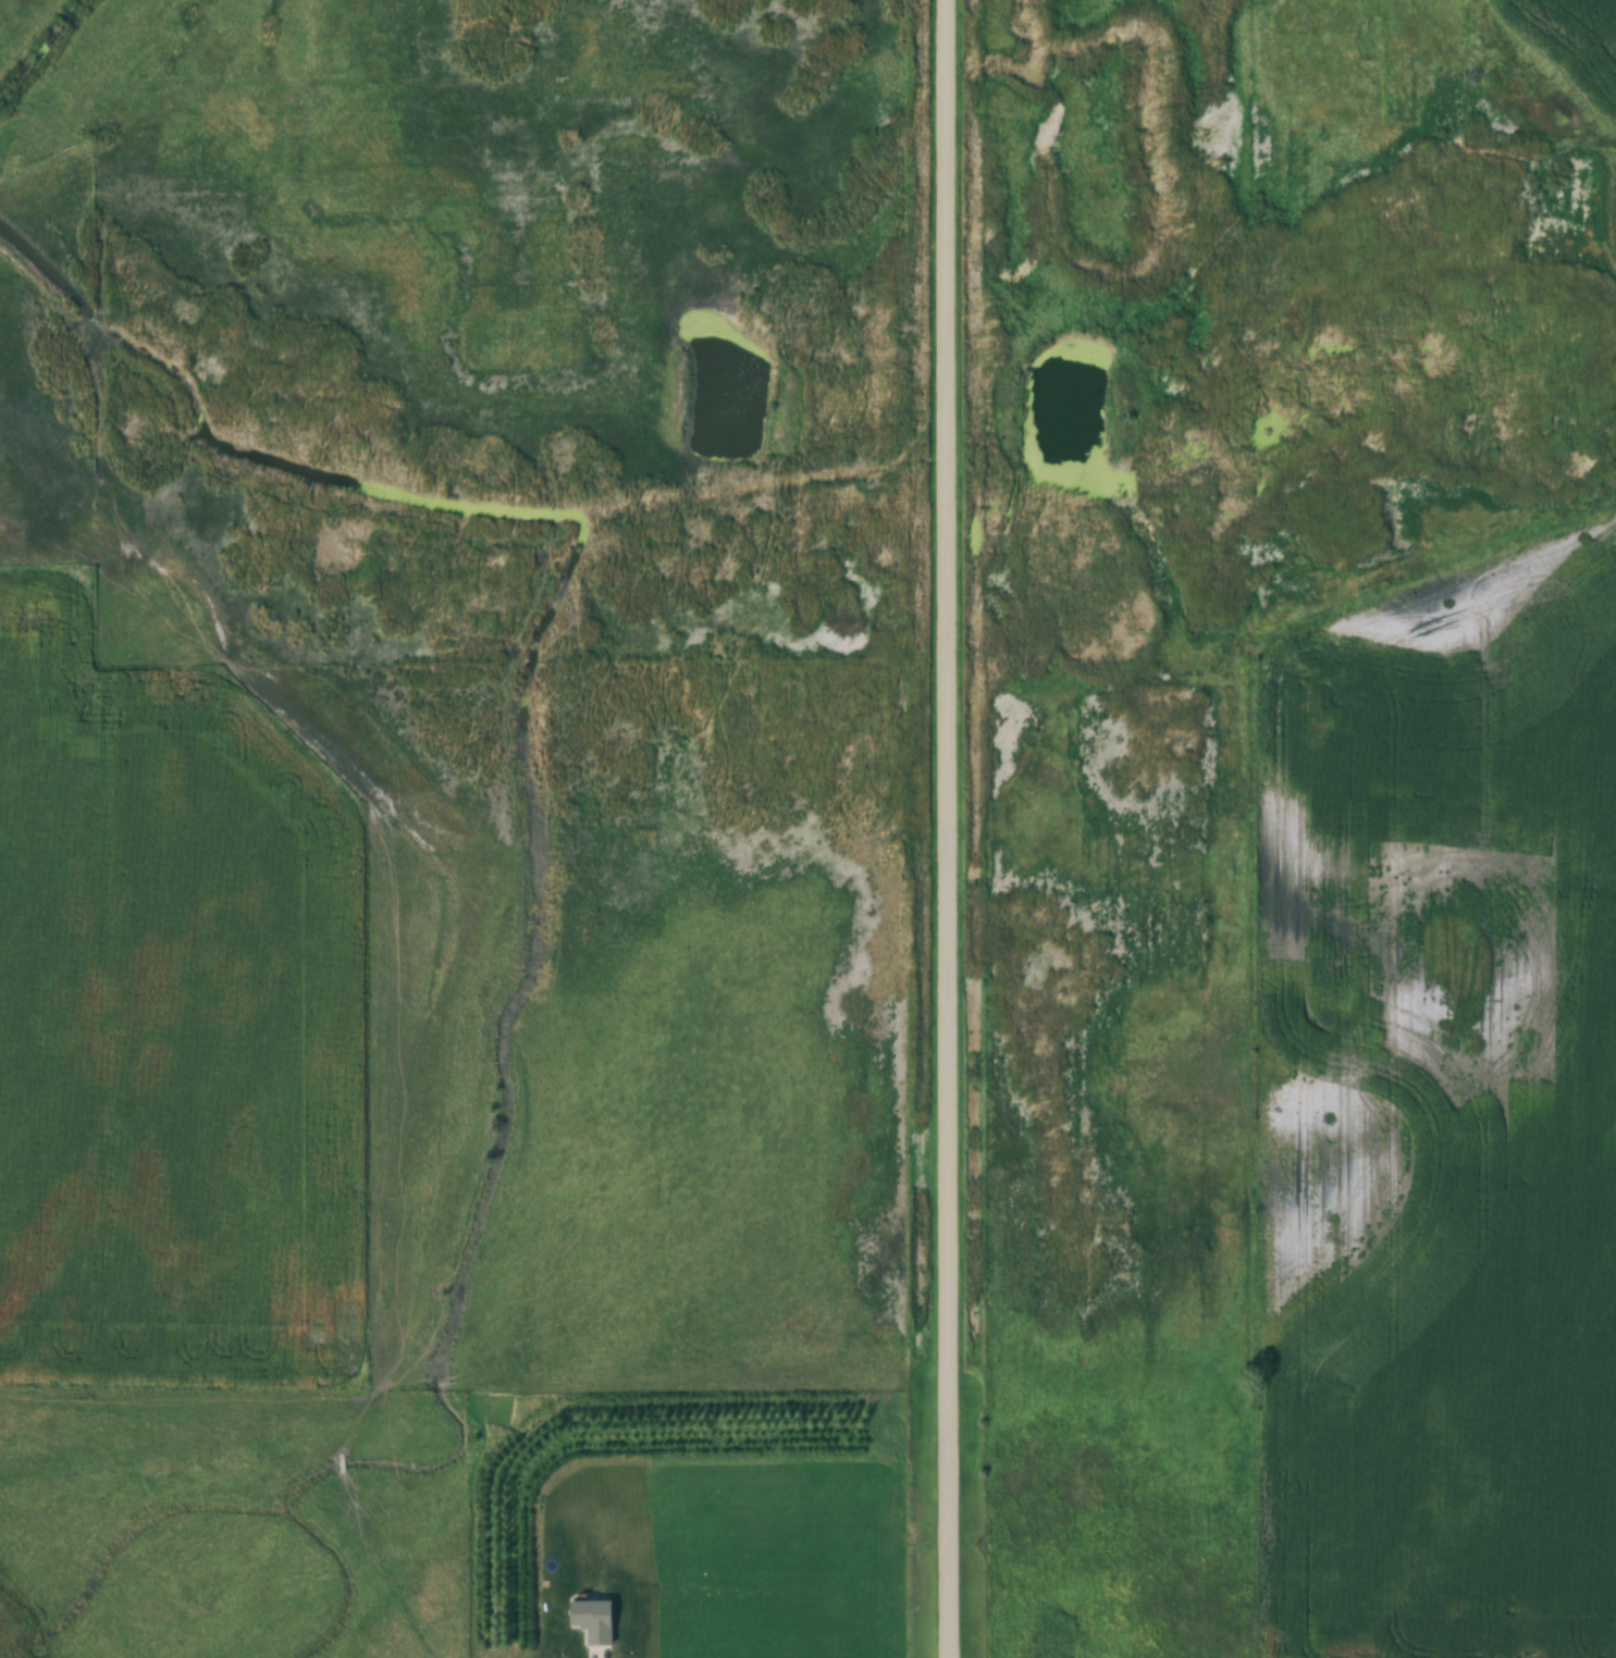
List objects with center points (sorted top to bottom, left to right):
road: (947, 829)

